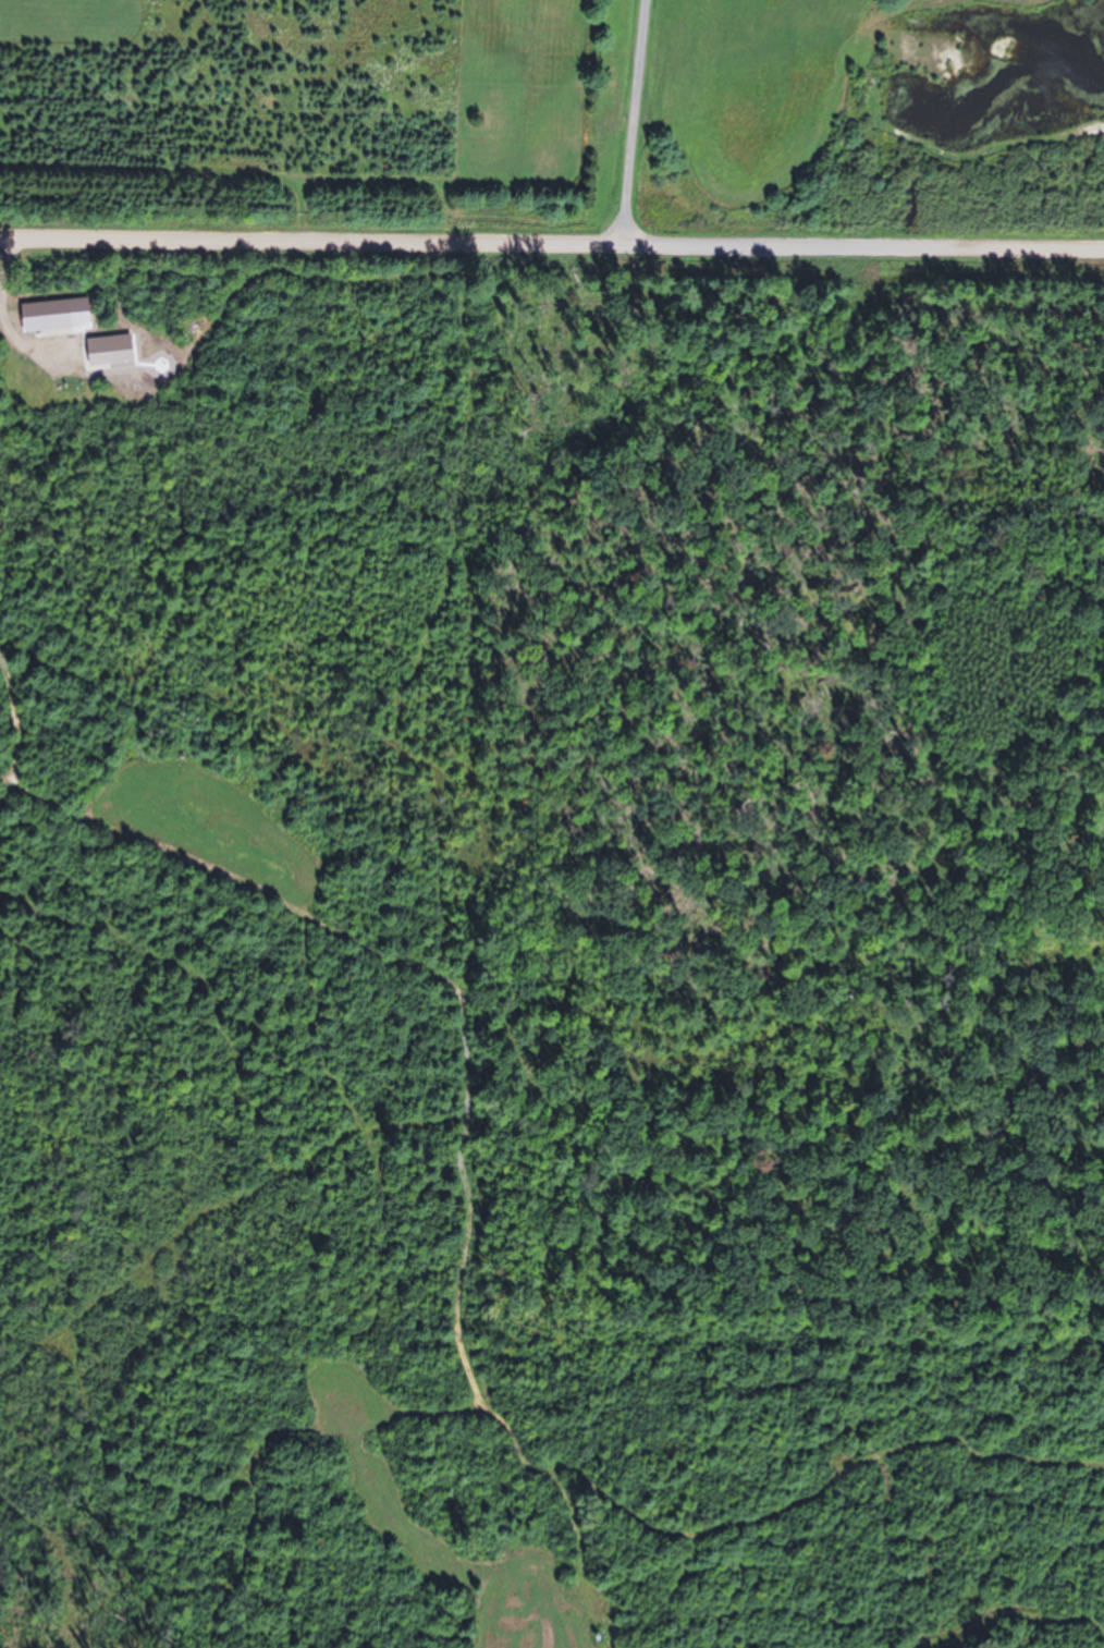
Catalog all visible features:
road: (633, 125)
road: (551, 251)
building: (108, 349)

